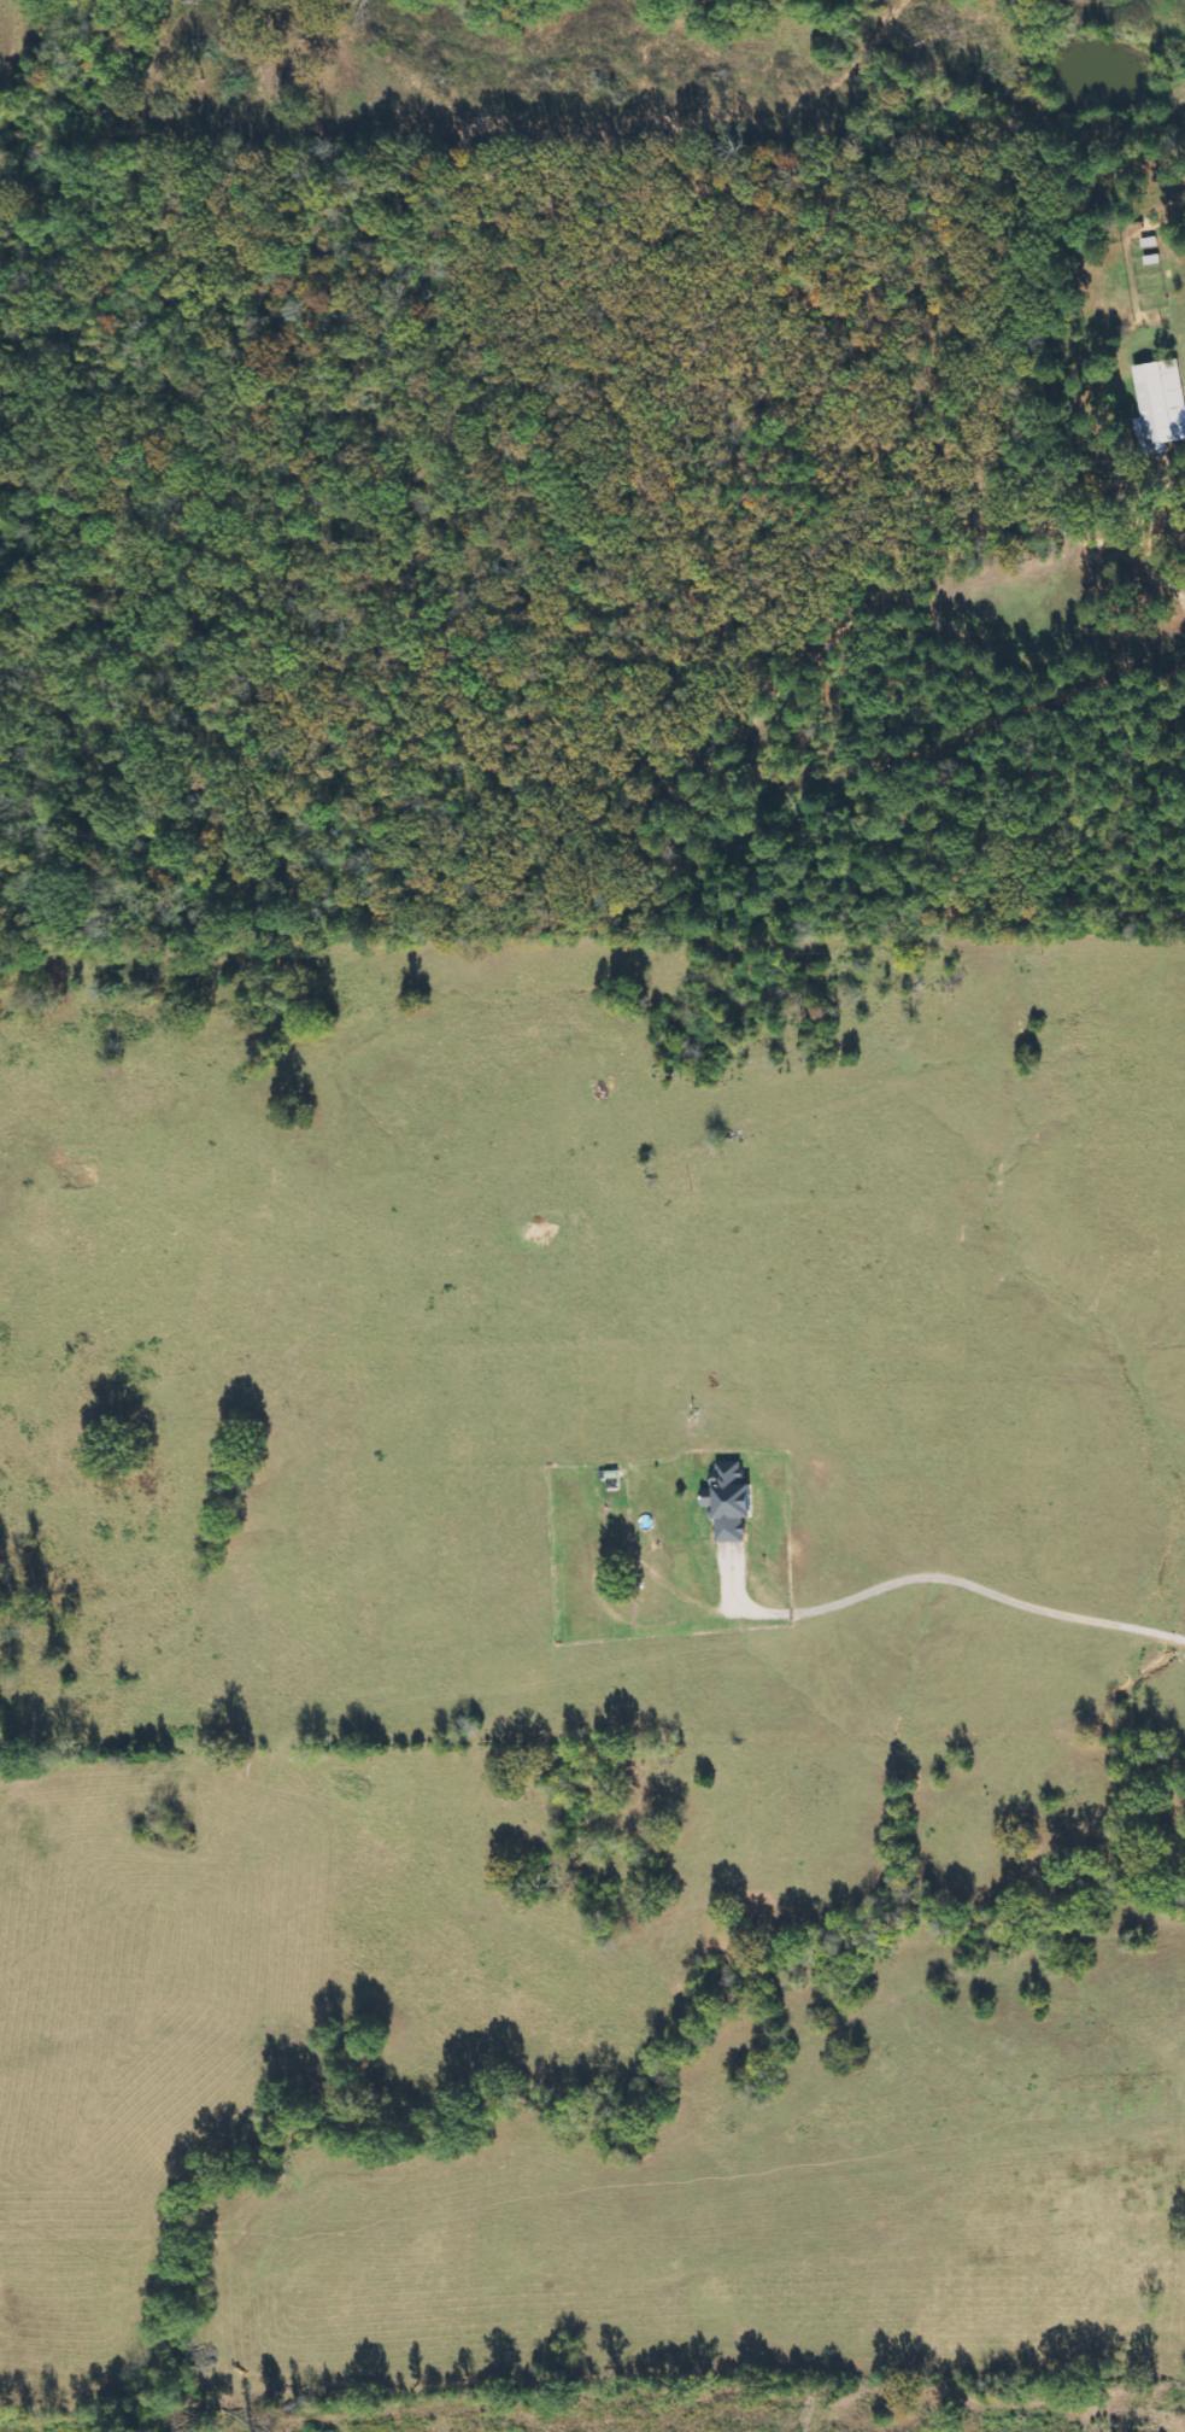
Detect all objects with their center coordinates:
building: (1160, 402)

